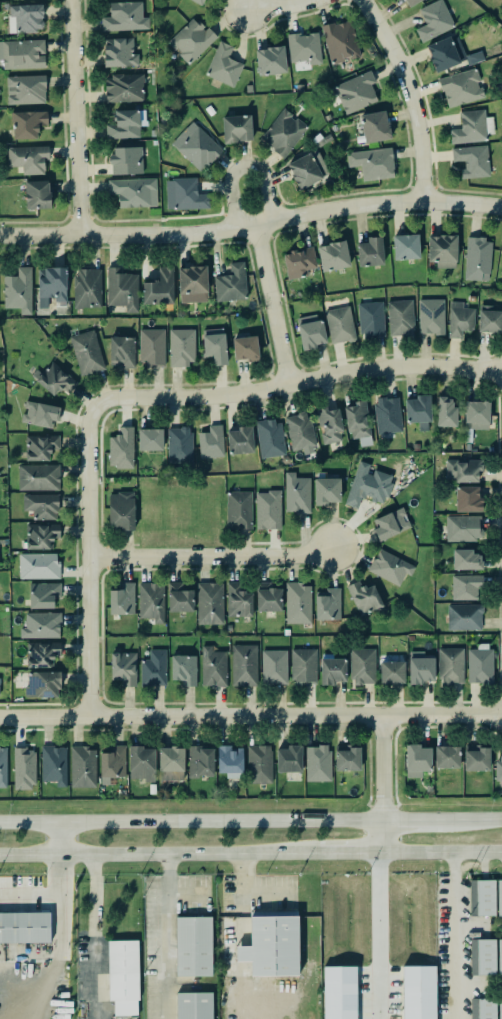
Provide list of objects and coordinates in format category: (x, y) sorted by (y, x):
building: (398, 0)
building: (198, 1)
building: (409, 1)
road: (282, 7)
building: (125, 17)
building: (32, 18)
building: (433, 19)
building: (192, 40)
building: (339, 40)
building: (303, 47)
building: (120, 53)
building: (22, 54)
building: (269, 59)
building: (222, 64)
building: (460, 86)
building: (26, 90)
building: (127, 91)
building: (355, 92)
road: (407, 95)
road: (74, 117)
building: (124, 123)
building: (28, 124)
building: (373, 124)
building: (467, 125)
building: (235, 127)
building: (282, 132)
building: (199, 149)
building: (28, 159)
building: (471, 159)
building: (127, 160)
building: (373, 163)
road: (244, 164)
building: (308, 169)
building: (132, 191)
building: (36, 193)
building: (184, 193)
road: (252, 228)
building: (404, 245)
building: (441, 249)
building: (369, 250)
building: (332, 254)
building: (477, 258)
building: (298, 261)
building: (500, 264)
building: (230, 283)
building: (50, 284)
building: (86, 287)
building: (158, 287)
building: (196, 287)
building: (121, 288)
building: (18, 290)
road: (269, 307)
building: (430, 315)
building: (370, 318)
building: (401, 318)
building: (488, 318)
building: (459, 319)
building: (341, 327)
building: (311, 331)
building: (151, 346)
building: (178, 346)
building: (244, 347)
building: (120, 350)
building: (84, 351)
building: (219, 351)
building: (57, 380)
road: (296, 382)
building: (417, 410)
building: (445, 411)
building: (40, 414)
building: (476, 414)
building: (389, 417)
building: (358, 420)
building: (328, 423)
building: (300, 433)
building: (269, 437)
building: (149, 438)
building: (239, 439)
building: (210, 441)
building: (39, 445)
building: (180, 446)
building: (121, 449)
building: (463, 470)
building: (35, 476)
building: (367, 485)
building: (326, 490)
building: (296, 493)
building: (466, 498)
building: (44, 507)
building: (120, 510)
building: (239, 510)
building: (268, 510)
building: (389, 525)
building: (462, 527)
building: (41, 536)
road: (209, 558)
building: (466, 560)
road: (86, 562)
building: (37, 565)
building: (389, 566)
building: (466, 587)
building: (44, 595)
building: (178, 597)
building: (363, 597)
building: (268, 598)
building: (121, 599)
building: (151, 600)
building: (239, 601)
building: (297, 602)
building: (207, 603)
building: (327, 604)
building: (465, 620)
building: (40, 624)
building: (41, 653)
building: (303, 664)
building: (449, 664)
building: (241, 665)
building: (272, 666)
building: (363, 666)
building: (480, 666)
building: (214, 667)
building: (153, 668)
building: (182, 668)
building: (420, 668)
building: (124, 669)
building: (332, 669)
building: (392, 673)
building: (41, 683)
road: (251, 718)
building: (446, 756)
building: (288, 758)
building: (346, 758)
building: (476, 758)
building: (229, 759)
building: (416, 759)
building: (199, 761)
building: (111, 762)
building: (141, 763)
building: (170, 763)
building: (317, 763)
building: (52, 764)
building: (260, 764)
building: (82, 766)
building: (3, 767)
building: (24, 768)
building: (498, 768)
road: (382, 771)
building: (428, 787)
road: (480, 821)
road: (420, 822)
road: (191, 823)
road: (381, 836)
road: (59, 838)
road: (441, 848)
road: (348, 849)
road: (158, 852)
road: (47, 894)
road: (246, 895)
building: (481, 896)
building: (498, 896)
building: (24, 926)
road: (377, 933)
road: (456, 933)
road: (93, 935)
road: (167, 935)
building: (193, 945)
building: (271, 945)
building: (482, 956)
building: (498, 956)
building: (122, 975)
building: (340, 992)
building: (419, 992)
building: (192, 1005)
building: (483, 1008)
building: (498, 1008)

